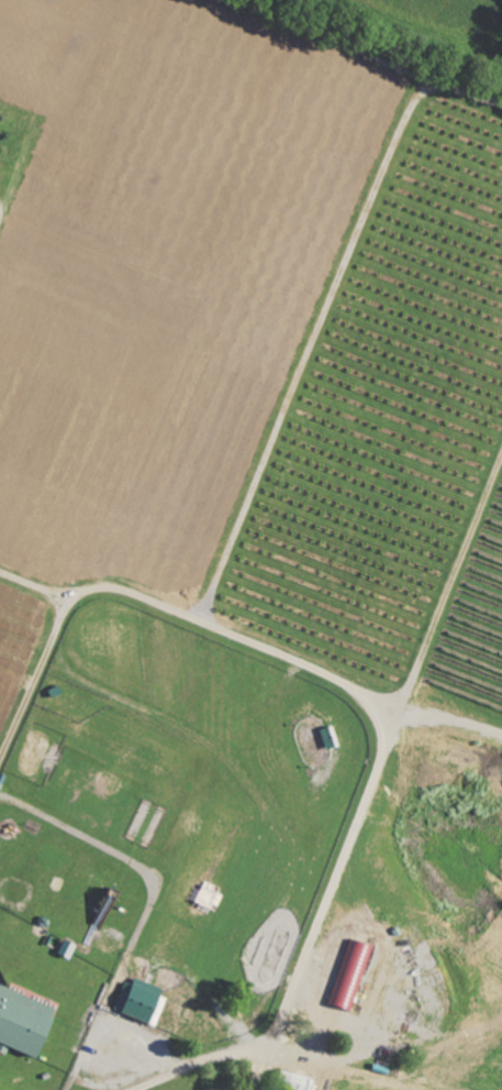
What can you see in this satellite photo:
road: (372, 47)
road: (8, 216)
park: (246, 560)
road: (44, 583)
road: (336, 670)
road: (30, 698)
road: (154, 900)
building: (347, 976)
building: (137, 1002)
road: (250, 1008)
building: (23, 1021)
building: (291, 1081)

